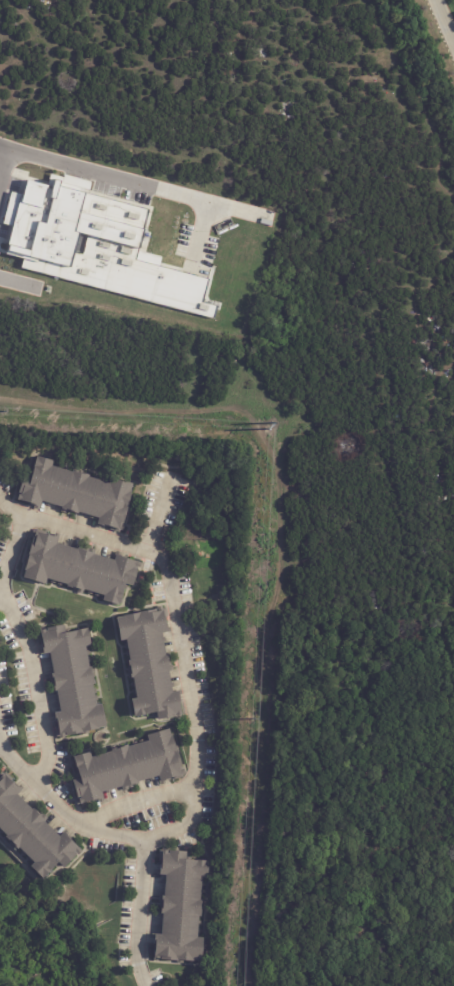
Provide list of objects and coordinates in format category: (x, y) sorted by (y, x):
road: (444, 21)
road: (3, 161)
road: (0, 167)
road: (131, 183)
road: (199, 232)
building: (94, 245)
road: (3, 279)
power tower: (4, 411)
power tower: (266, 427)
building: (79, 494)
road: (15, 542)
road: (121, 544)
building: (81, 570)
building: (150, 666)
building: (74, 682)
road: (37, 687)
power tower: (251, 720)
building: (129, 767)
road: (194, 793)
road: (135, 800)
building: (33, 833)
building: (182, 909)
road: (141, 913)

